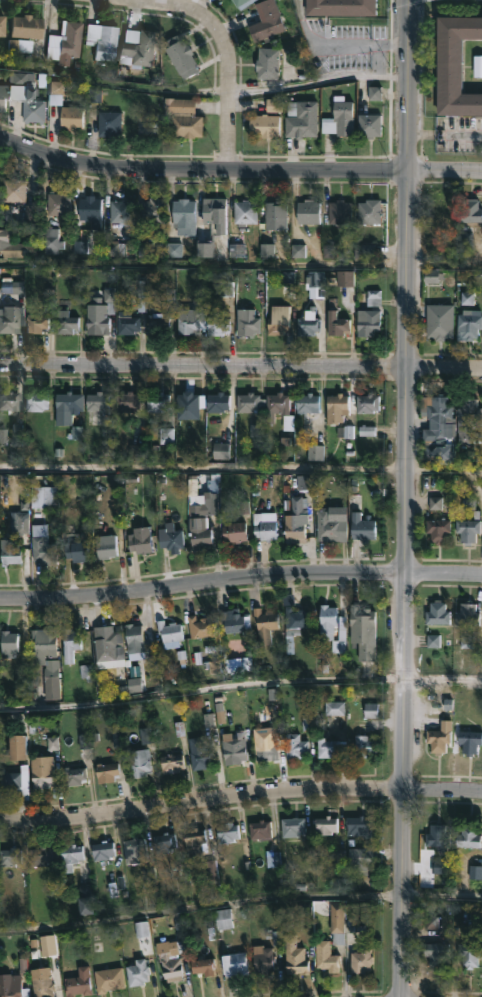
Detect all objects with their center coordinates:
building: (240, 3)
building: (341, 7)
building: (265, 20)
building: (1, 25)
building: (23, 26)
building: (100, 41)
building: (62, 42)
road: (365, 43)
building: (15, 46)
building: (137, 49)
building: (180, 55)
road: (224, 60)
building: (267, 62)
building: (454, 65)
building: (19, 79)
road: (112, 84)
road: (316, 86)
building: (2, 97)
building: (31, 107)
building: (181, 116)
building: (70, 117)
building: (338, 117)
building: (300, 118)
building: (109, 123)
building: (263, 124)
building: (369, 125)
road: (444, 134)
road: (238, 168)
building: (13, 190)
building: (56, 202)
building: (89, 209)
building: (154, 210)
building: (469, 210)
building: (245, 211)
building: (307, 211)
building: (371, 211)
building: (119, 212)
building: (215, 213)
building: (340, 214)
building: (183, 215)
building: (274, 215)
building: (52, 240)
building: (15, 245)
road: (241, 265)
road: (407, 287)
building: (375, 299)
building: (7, 319)
building: (276, 320)
building: (187, 321)
building: (440, 321)
building: (65, 322)
building: (125, 322)
building: (246, 322)
building: (34, 323)
building: (95, 323)
building: (156, 323)
building: (337, 323)
building: (366, 323)
building: (307, 324)
building: (216, 325)
building: (469, 325)
road: (241, 366)
building: (34, 400)
building: (7, 401)
building: (126, 401)
building: (156, 401)
building: (189, 401)
building: (65, 402)
building: (96, 402)
building: (217, 402)
building: (248, 402)
building: (275, 402)
building: (306, 402)
building: (367, 403)
building: (337, 407)
building: (466, 418)
building: (438, 420)
building: (437, 452)
road: (241, 472)
road: (477, 488)
building: (46, 498)
building: (76, 502)
building: (205, 502)
building: (296, 519)
building: (329, 526)
building: (262, 527)
building: (364, 528)
building: (439, 530)
building: (467, 530)
building: (234, 531)
building: (199, 534)
building: (169, 537)
building: (138, 541)
building: (103, 546)
building: (40, 548)
building: (78, 551)
building: (10, 555)
road: (443, 576)
road: (202, 585)
building: (436, 613)
building: (467, 613)
building: (292, 617)
building: (234, 621)
building: (263, 624)
building: (197, 626)
building: (332, 628)
building: (363, 629)
building: (169, 633)
building: (131, 637)
building: (107, 640)
building: (434, 642)
building: (7, 643)
building: (68, 643)
building: (44, 659)
road: (240, 690)
building: (438, 737)
building: (298, 740)
building: (469, 740)
building: (363, 746)
building: (14, 748)
building: (326, 748)
building: (264, 751)
building: (232, 752)
building: (200, 754)
building: (137, 763)
building: (171, 763)
building: (41, 772)
building: (105, 772)
building: (73, 776)
building: (15, 781)
road: (405, 785)
road: (240, 805)
building: (324, 823)
building: (358, 824)
building: (291, 825)
building: (260, 828)
building: (226, 831)
building: (437, 833)
building: (467, 837)
building: (193, 839)
building: (162, 841)
building: (131, 848)
building: (101, 849)
building: (41, 854)
building: (68, 854)
building: (8, 856)
building: (360, 857)
building: (83, 898)
road: (240, 903)
building: (222, 917)
building: (336, 922)
building: (435, 951)
building: (469, 953)
building: (293, 955)
building: (325, 956)
building: (260, 958)
building: (168, 959)
building: (361, 960)
building: (232, 962)
building: (202, 965)
building: (136, 971)
building: (107, 979)
building: (40, 982)
building: (77, 982)
building: (12, 988)

